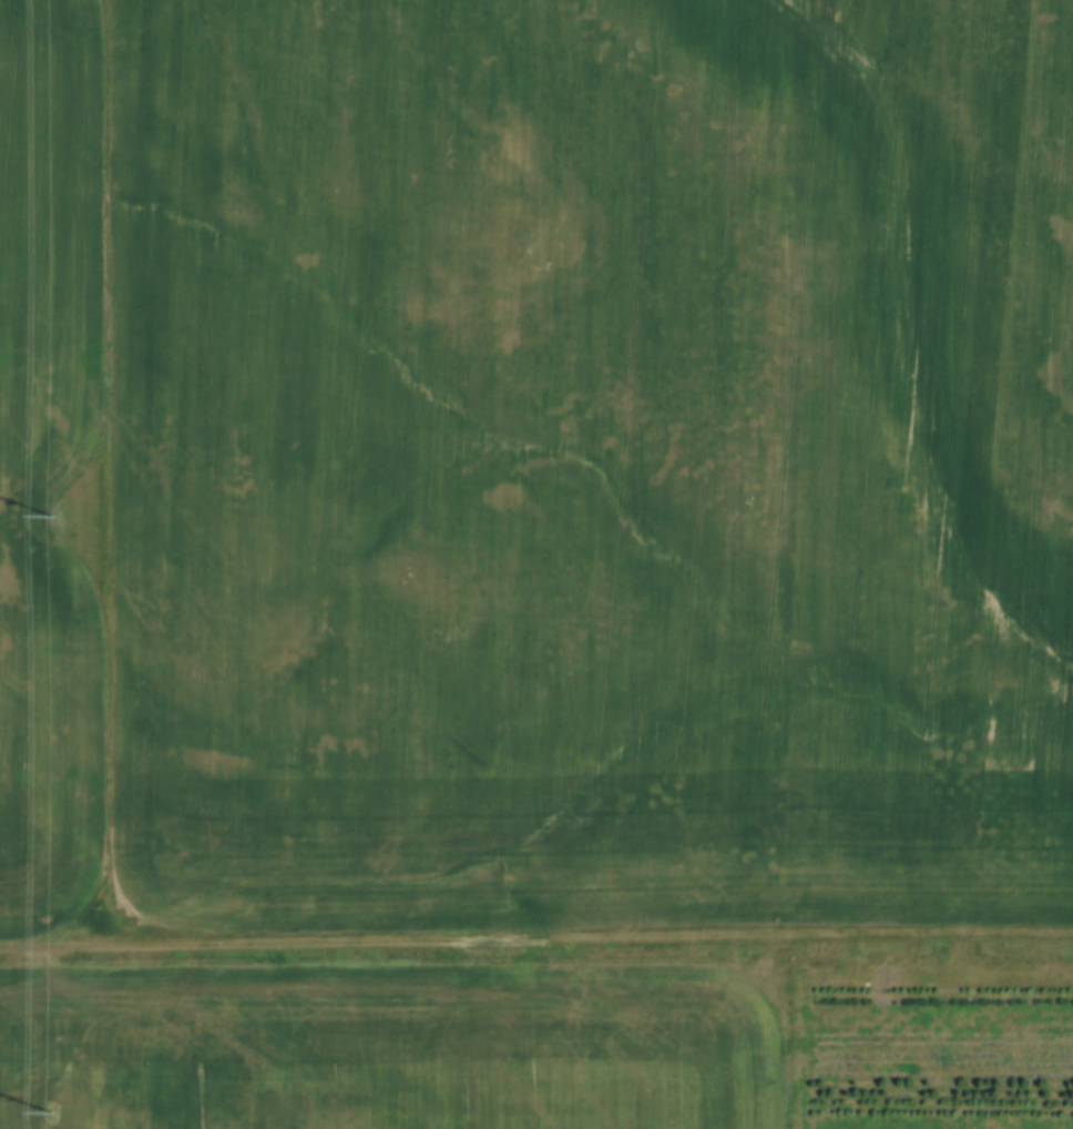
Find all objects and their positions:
power tower: (54, 515)
road: (535, 944)
power tower: (52, 1110)

